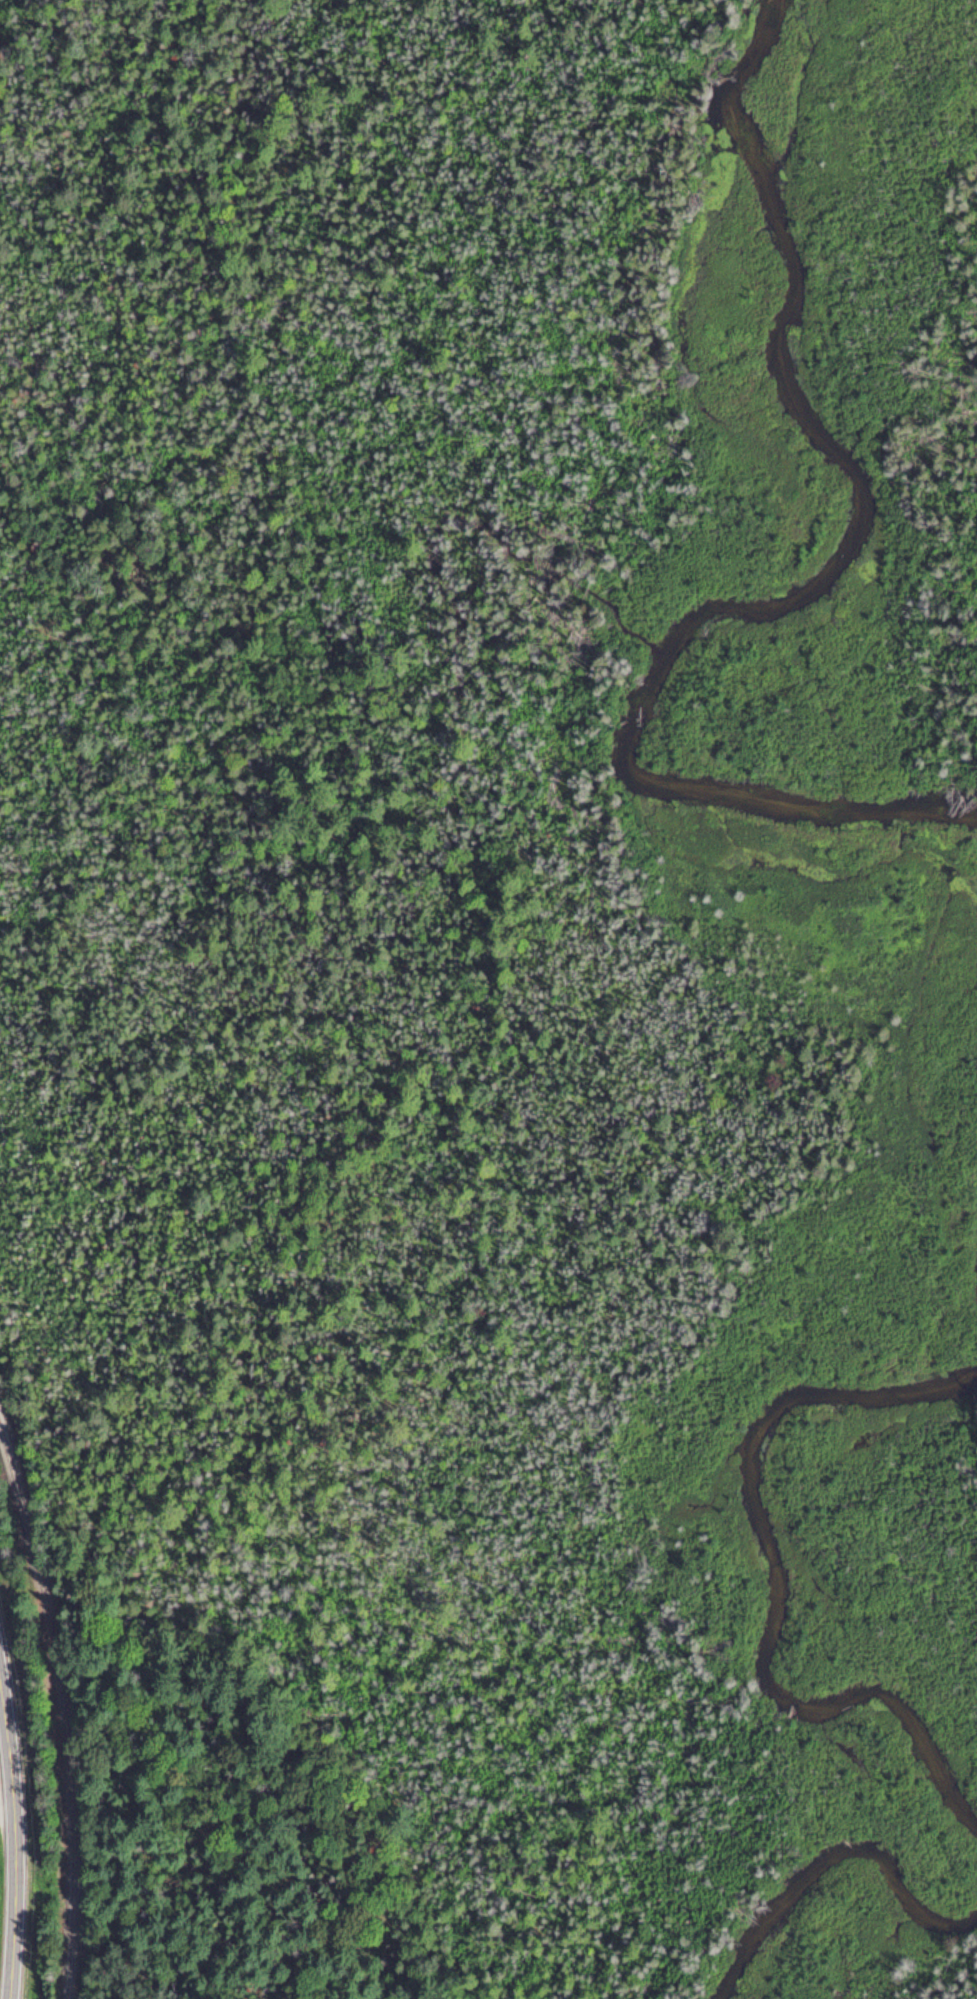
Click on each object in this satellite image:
river: (813, 582)
river: (772, 1584)
railway: (62, 1713)
road: (16, 1824)
river: (831, 1857)

